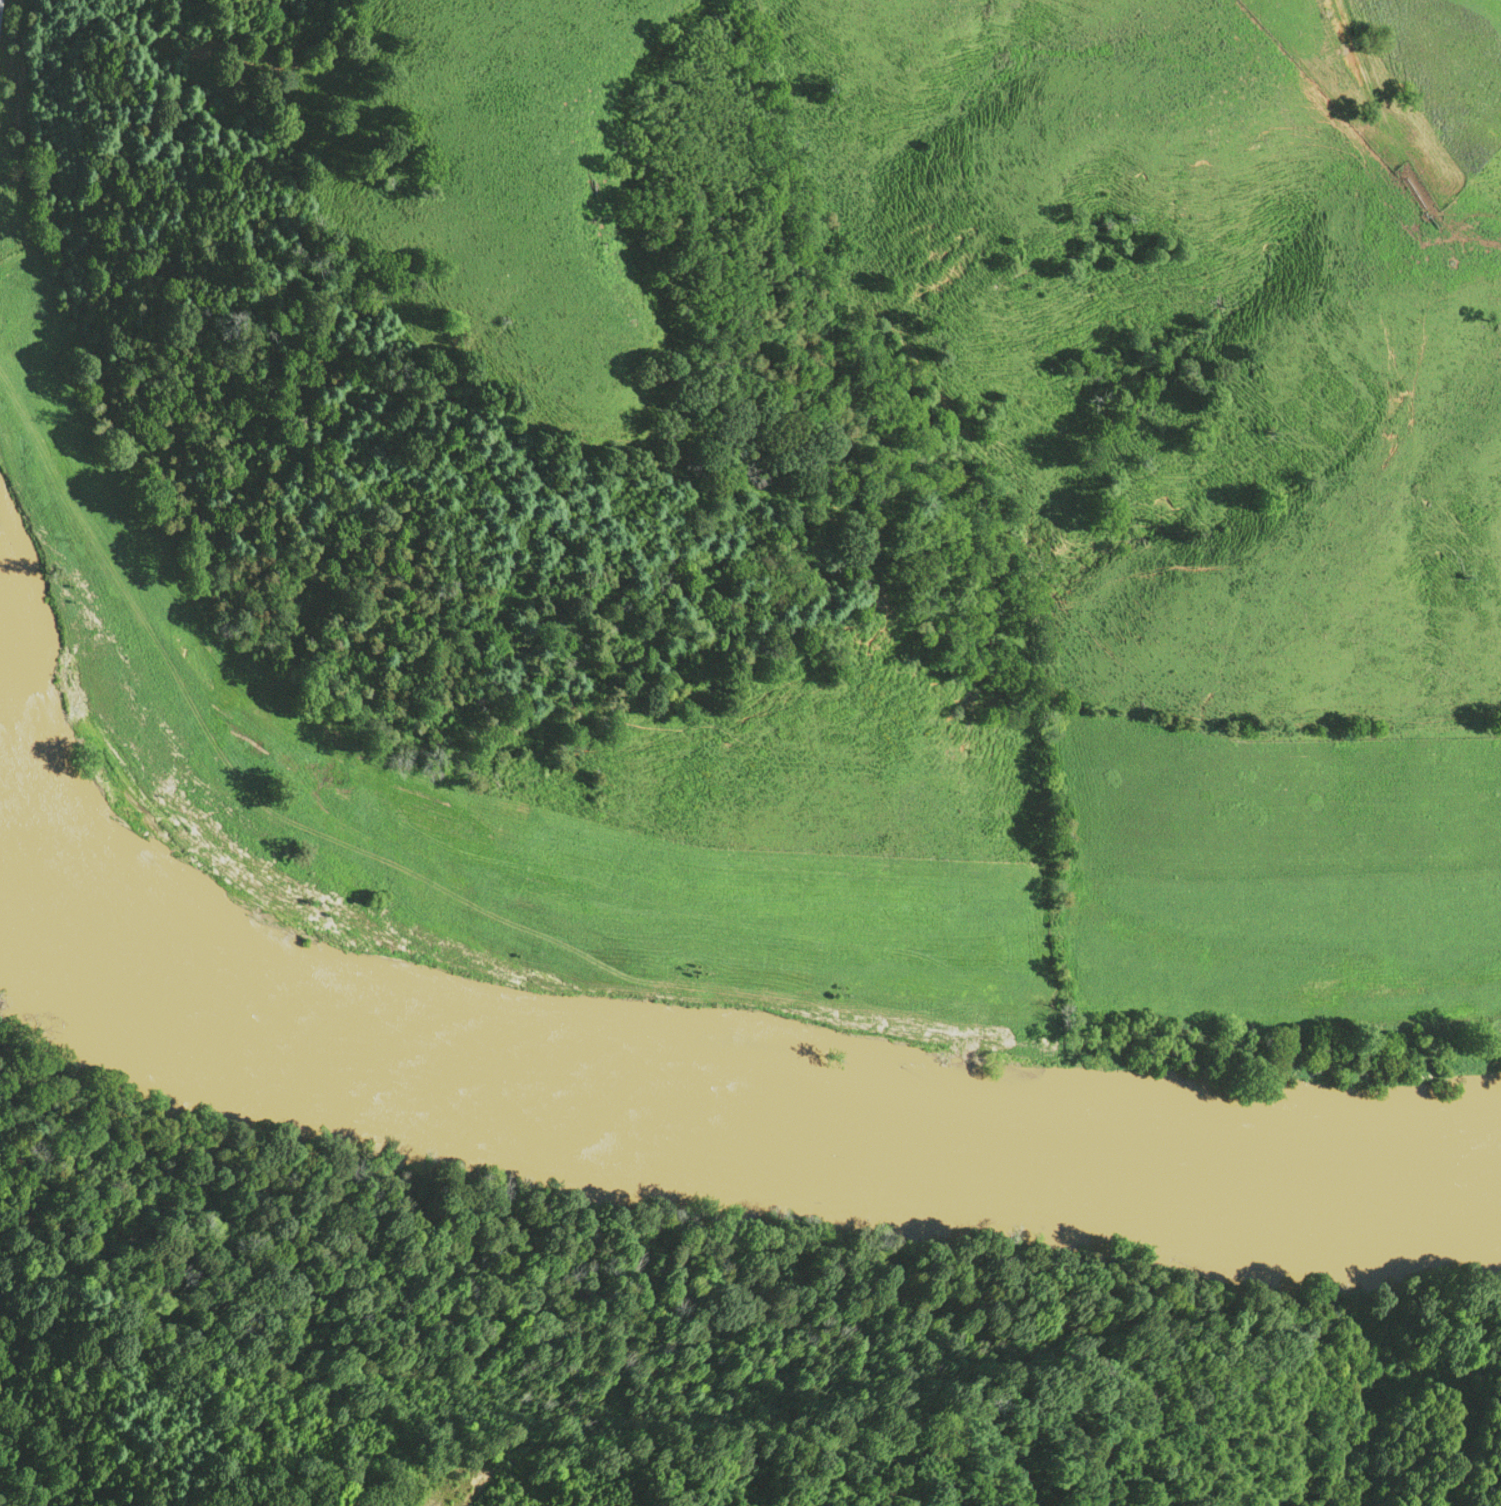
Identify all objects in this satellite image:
river: (692, 1143)

